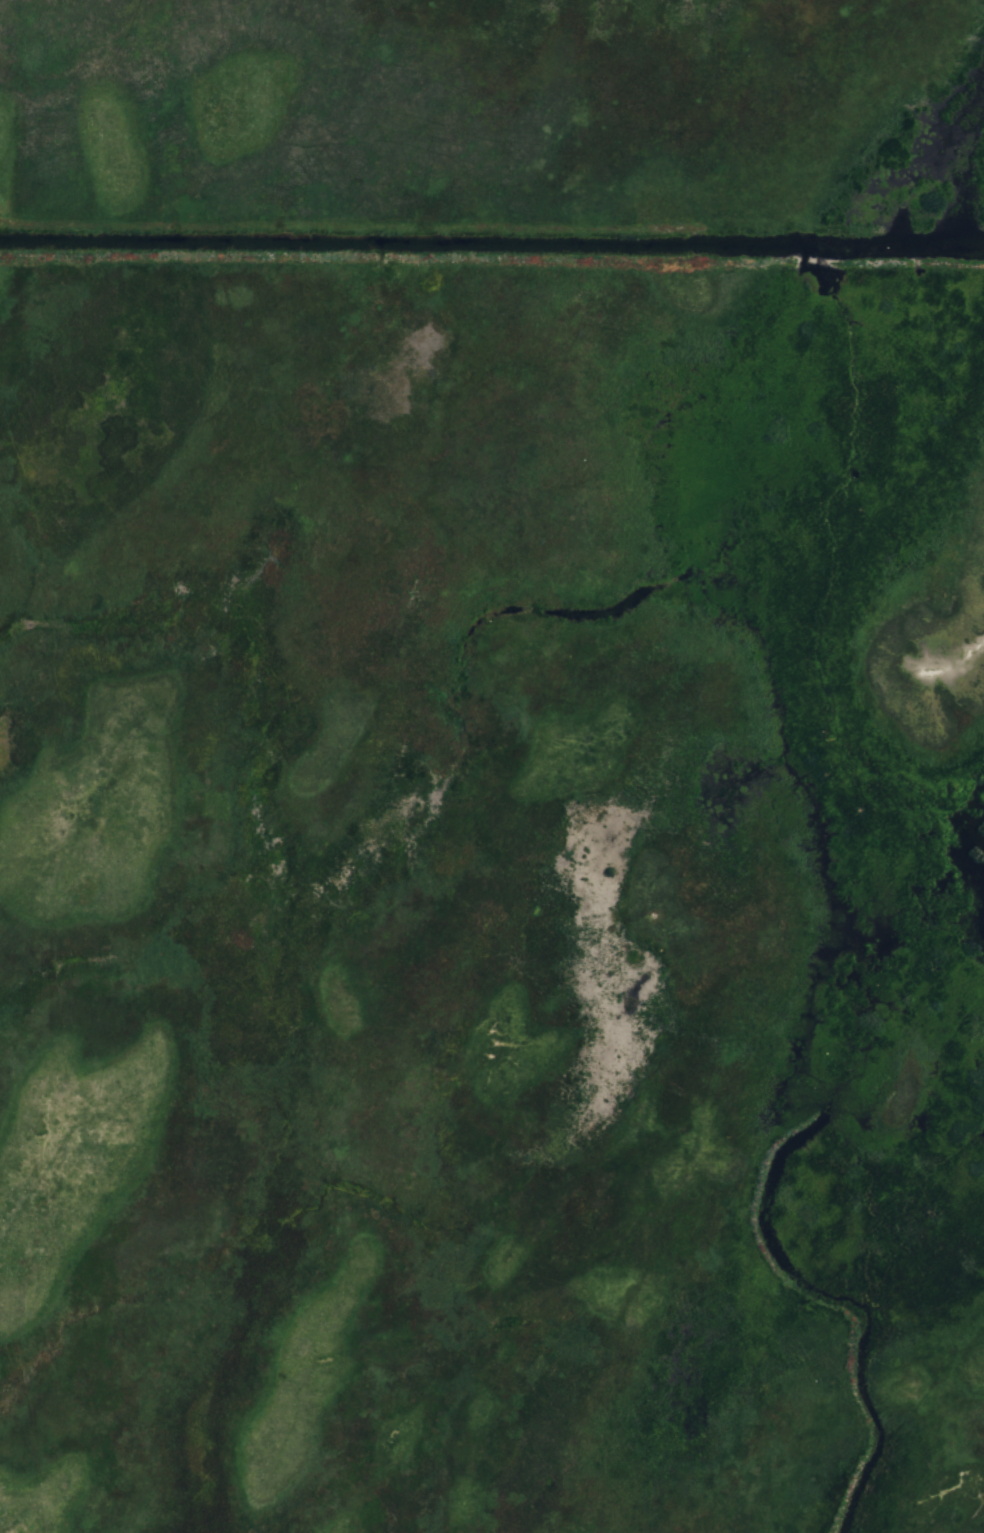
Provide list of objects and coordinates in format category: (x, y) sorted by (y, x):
crop: (981, 287)
crop: (25, 648)
crop: (508, 855)

